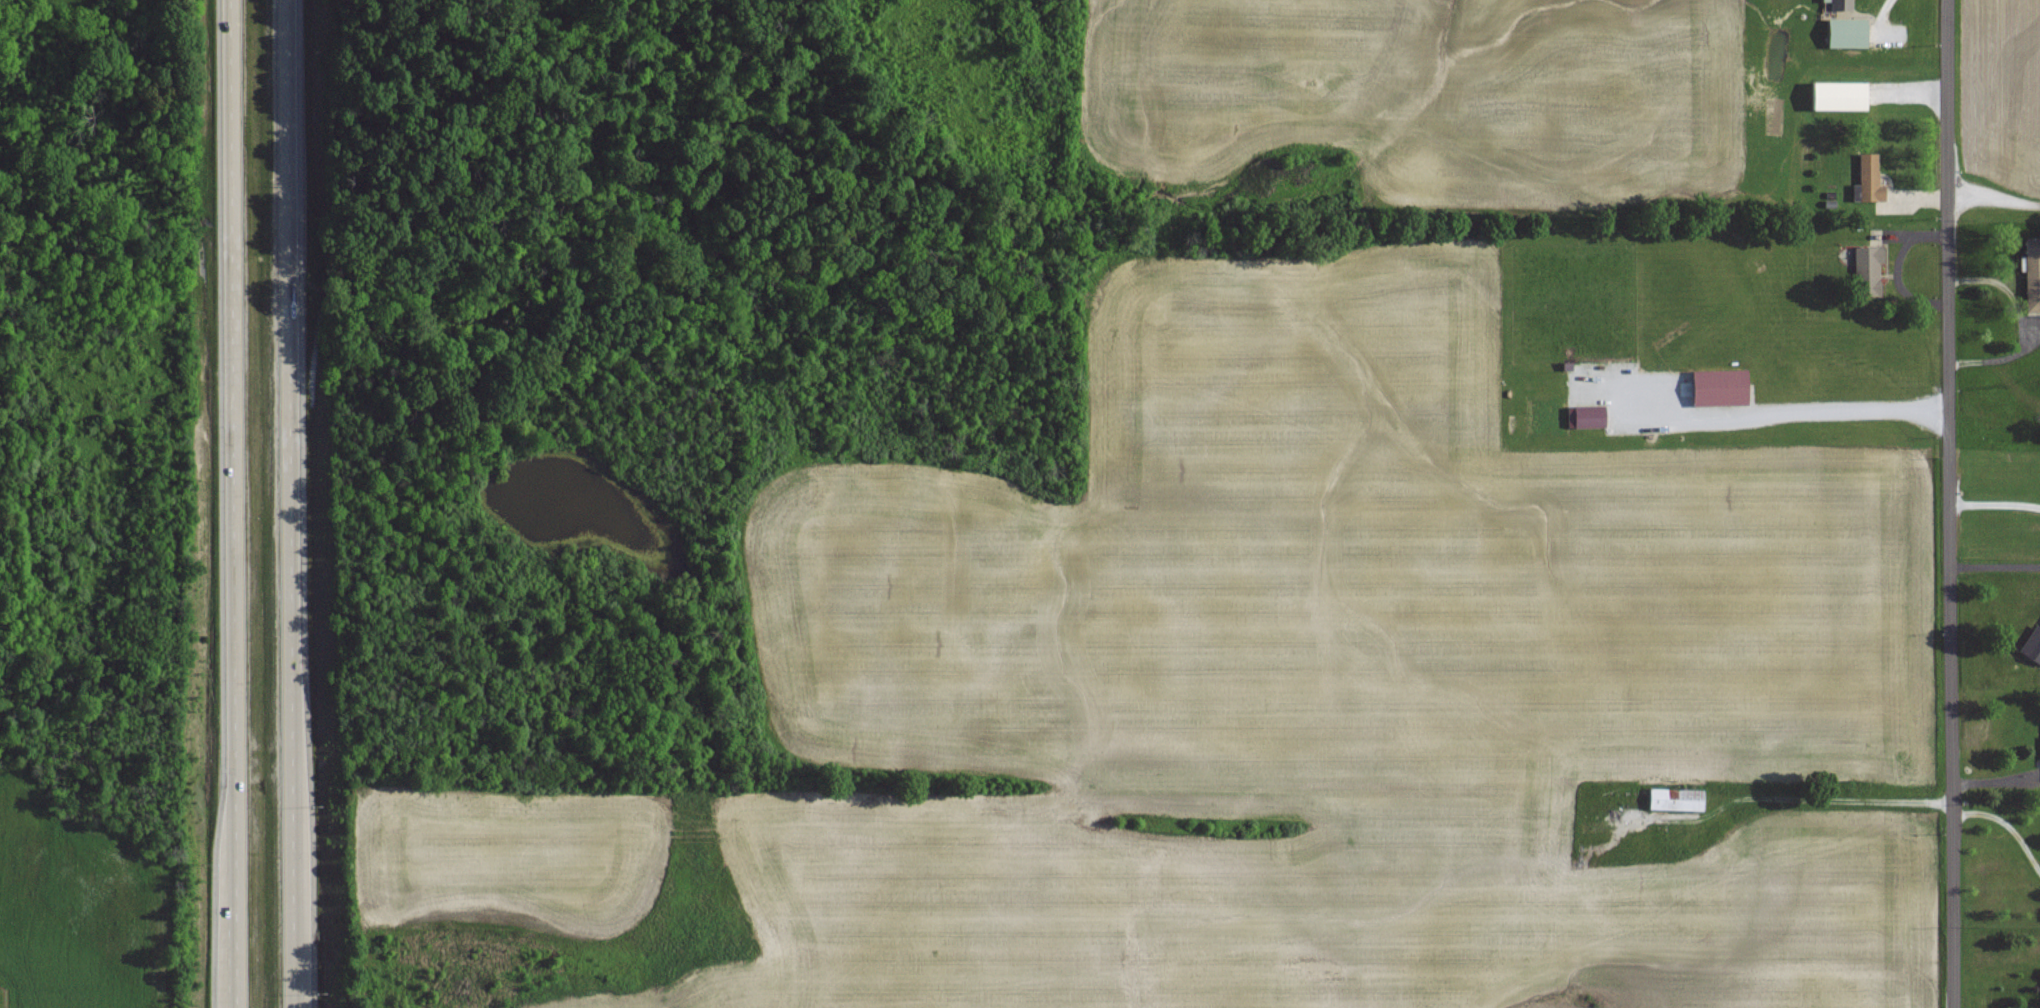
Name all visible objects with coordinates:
building: (1839, 95)
building: (1870, 178)
road: (1995, 201)
building: (1868, 270)
building: (2032, 275)
building: (1719, 386)
road: (1857, 410)
building: (1589, 416)
road: (235, 503)
road: (1953, 503)
road: (1996, 503)
road: (295, 504)
road: (1996, 567)
building: (2032, 645)
building: (1675, 798)
road: (1829, 798)
road: (2007, 827)
road: (232, 904)

